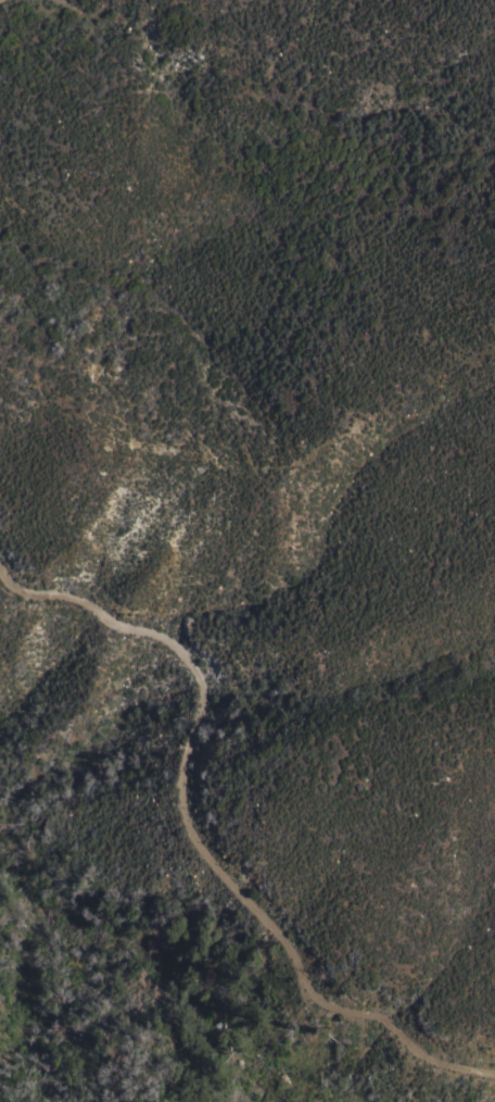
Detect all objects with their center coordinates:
road: (192, 840)

